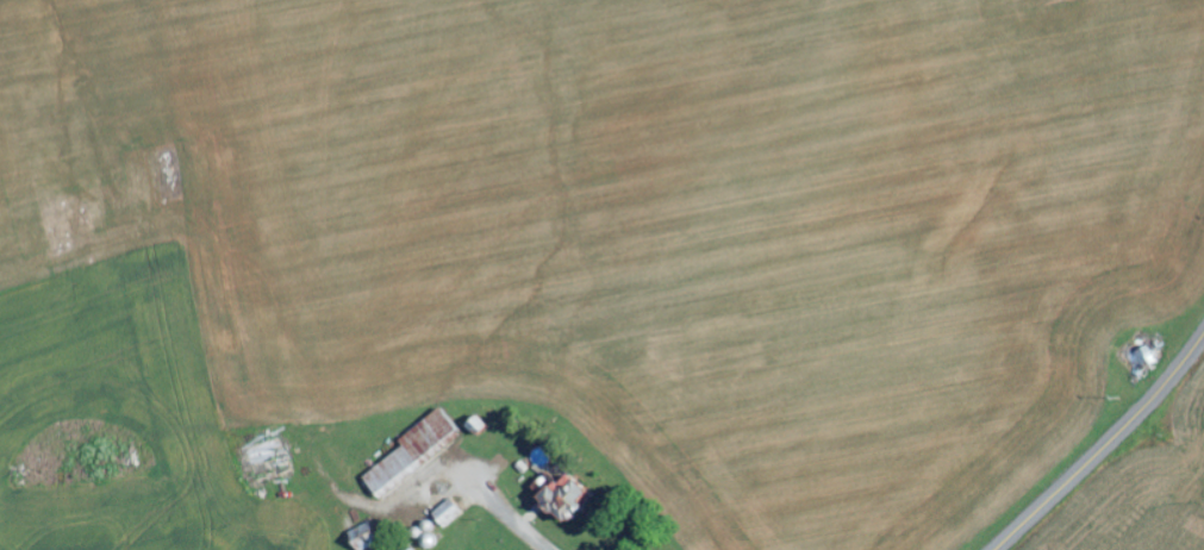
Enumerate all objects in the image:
road: (261, 431)
road: (1105, 445)

